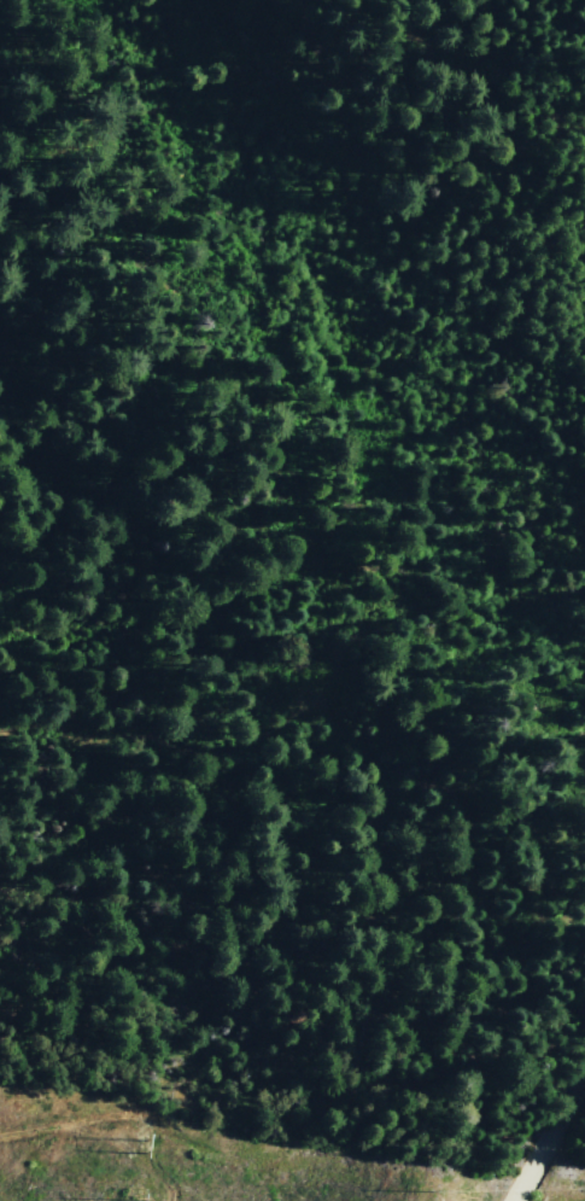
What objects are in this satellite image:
power tower: (145, 1144)

